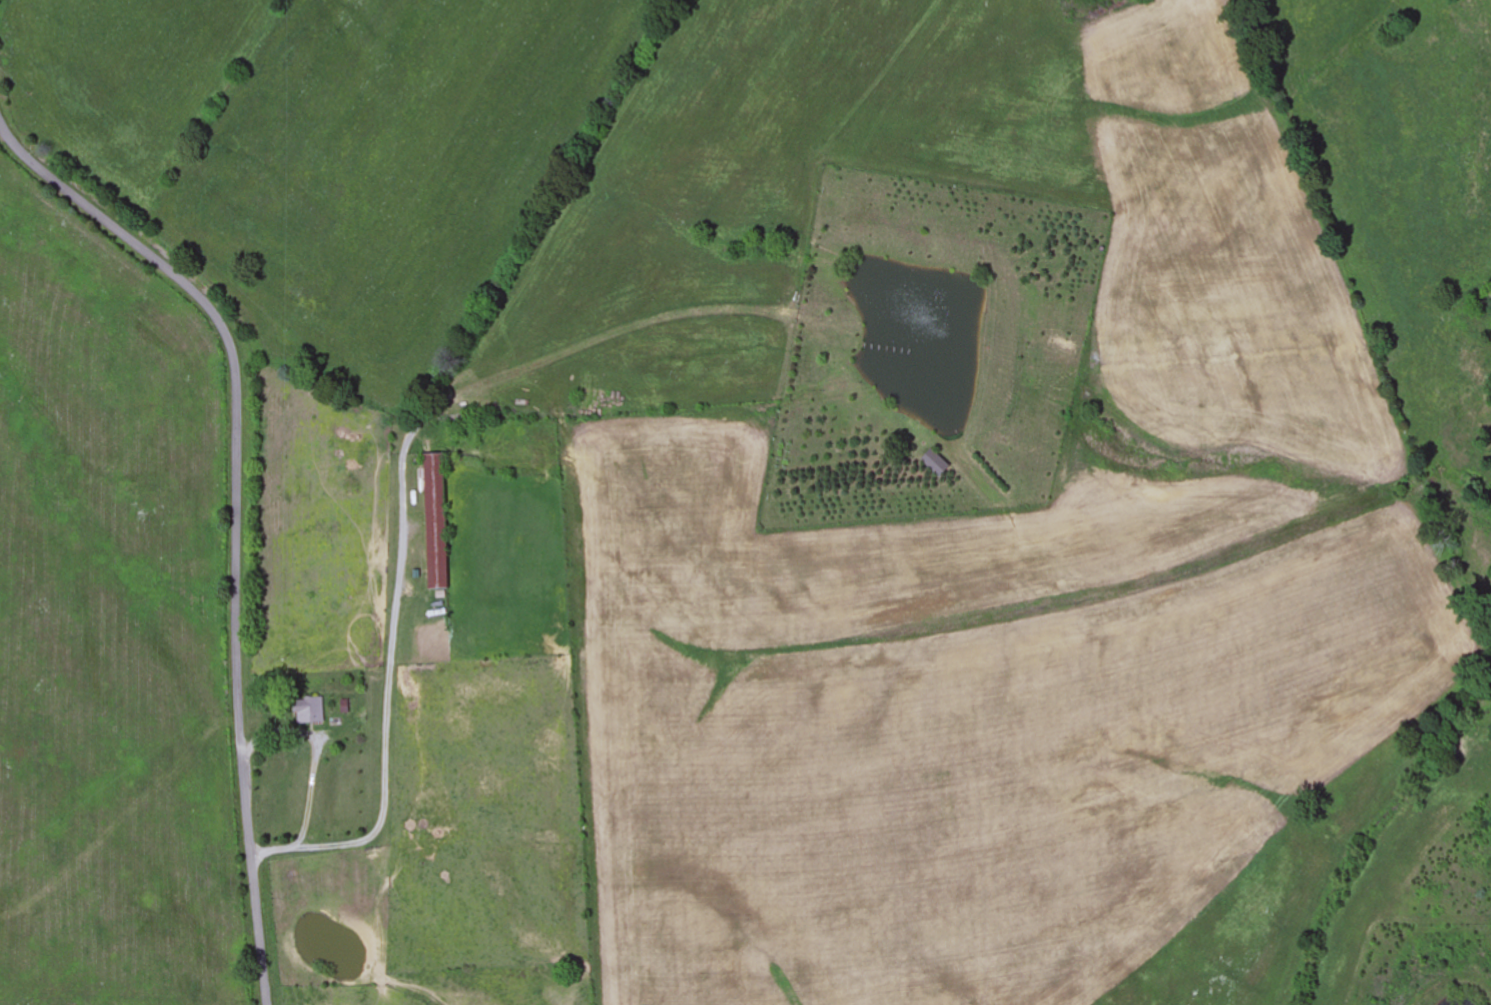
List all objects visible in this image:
road: (236, 512)
building: (436, 522)
building: (310, 710)

